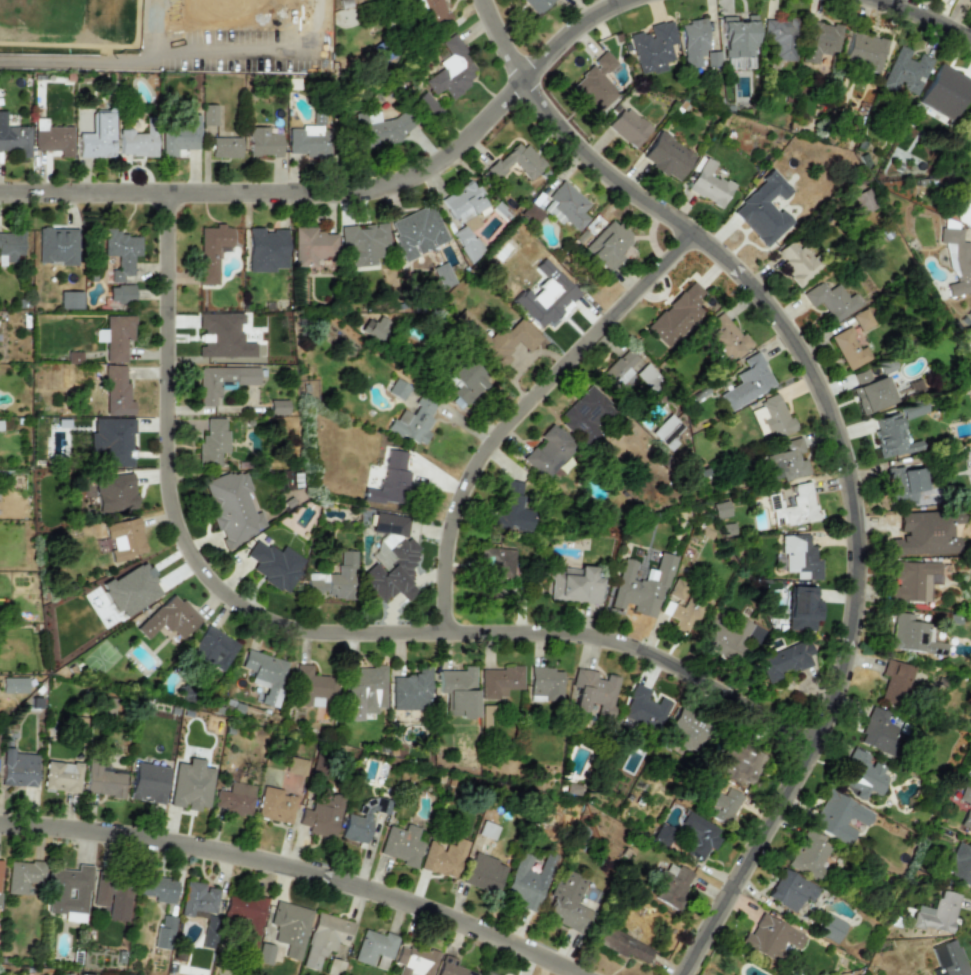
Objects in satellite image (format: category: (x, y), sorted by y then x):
building: (970, 0)
building: (536, 5)
building: (431, 11)
park: (44, 17)
road: (918, 20)
building: (779, 38)
building: (737, 40)
building: (692, 41)
building: (652, 45)
building: (863, 51)
building: (451, 70)
building: (904, 70)
building: (595, 83)
building: (943, 91)
building: (426, 105)
building: (969, 111)
building: (208, 114)
building: (628, 127)
building: (379, 128)
building: (14, 137)
building: (96, 137)
building: (180, 137)
building: (53, 140)
building: (308, 141)
building: (263, 142)
building: (137, 143)
building: (225, 147)
building: (667, 156)
building: (515, 161)
building: (708, 184)
road: (350, 197)
building: (862, 201)
building: (565, 205)
building: (962, 207)
building: (762, 209)
building: (464, 217)
building: (416, 231)
building: (362, 244)
building: (10, 246)
building: (57, 246)
building: (312, 246)
building: (609, 246)
building: (267, 248)
building: (214, 250)
building: (121, 252)
building: (795, 260)
building: (956, 260)
building: (440, 273)
building: (120, 293)
building: (831, 299)
building: (70, 300)
building: (545, 300)
building: (677, 314)
building: (116, 336)
building: (222, 336)
building: (723, 338)
building: (503, 341)
building: (850, 345)
building: (620, 371)
building: (463, 380)
building: (222, 381)
building: (747, 382)
building: (116, 392)
building: (872, 394)
building: (278, 406)
road: (519, 412)
building: (771, 416)
building: (414, 420)
building: (890, 437)
road: (833, 439)
building: (111, 441)
building: (212, 442)
building: (548, 451)
building: (787, 462)
building: (388, 480)
building: (902, 481)
building: (114, 492)
building: (231, 507)
building: (792, 507)
building: (509, 509)
building: (720, 509)
building: (389, 523)
building: (924, 533)
building: (126, 540)
building: (797, 557)
building: (274, 565)
building: (389, 568)
building: (496, 569)
building: (333, 579)
building: (913, 580)
building: (575, 585)
building: (640, 587)
building: (131, 589)
building: (801, 607)
building: (679, 615)
building: (168, 618)
road: (319, 636)
building: (913, 636)
building: (725, 638)
building: (213, 647)
building: (785, 660)
building: (264, 675)
building: (499, 681)
building: (894, 681)
building: (545, 683)
building: (13, 685)
building: (310, 686)
building: (459, 690)
building: (363, 691)
building: (411, 691)
building: (593, 691)
building: (644, 706)
building: (686, 731)
building: (877, 731)
building: (738, 763)
building: (296, 765)
building: (17, 768)
building: (861, 774)
building: (61, 777)
building: (103, 779)
building: (148, 783)
building: (190, 785)
building: (235, 799)
building: (275, 805)
building: (722, 805)
building: (321, 817)
building: (838, 817)
building: (360, 821)
building: (699, 836)
building: (401, 845)
building: (808, 855)
building: (443, 857)
building: (0, 863)
building: (959, 863)
road: (296, 869)
building: (483, 873)
building: (23, 876)
building: (526, 884)
building: (670, 884)
building: (158, 889)
building: (790, 890)
building: (69, 893)
building: (100, 893)
building: (198, 899)
building: (119, 902)
building: (567, 902)
building: (937, 913)
building: (246, 916)
building: (290, 927)
building: (830, 928)
building: (164, 933)
building: (770, 936)
building: (324, 938)
building: (624, 945)
building: (374, 949)
building: (264, 954)
building: (947, 959)
building: (414, 961)
building: (334, 967)
building: (451, 967)
building: (487, 973)
building: (80, 974)

